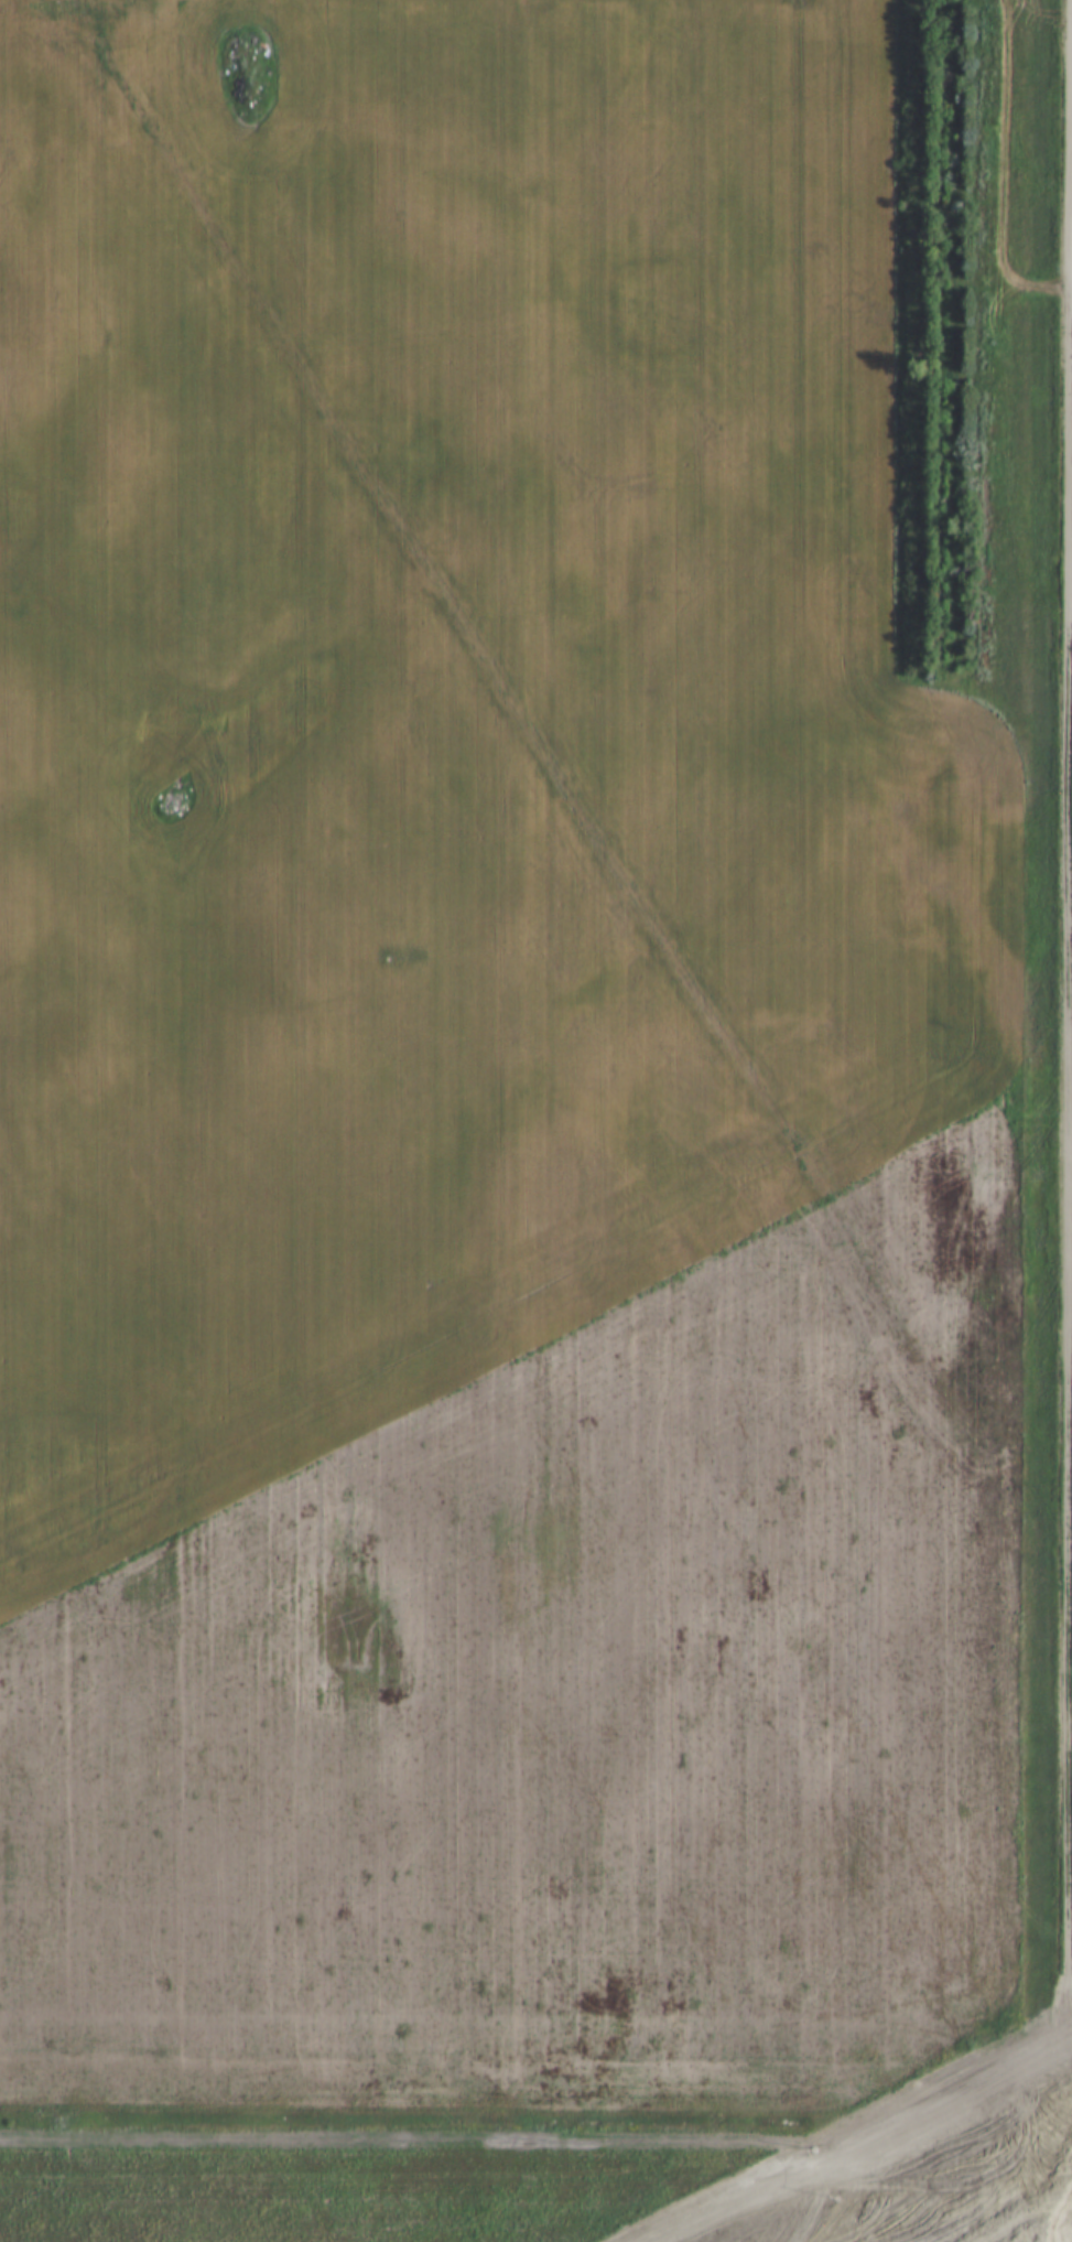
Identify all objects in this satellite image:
road: (1071, 604)
road: (1069, 1275)

